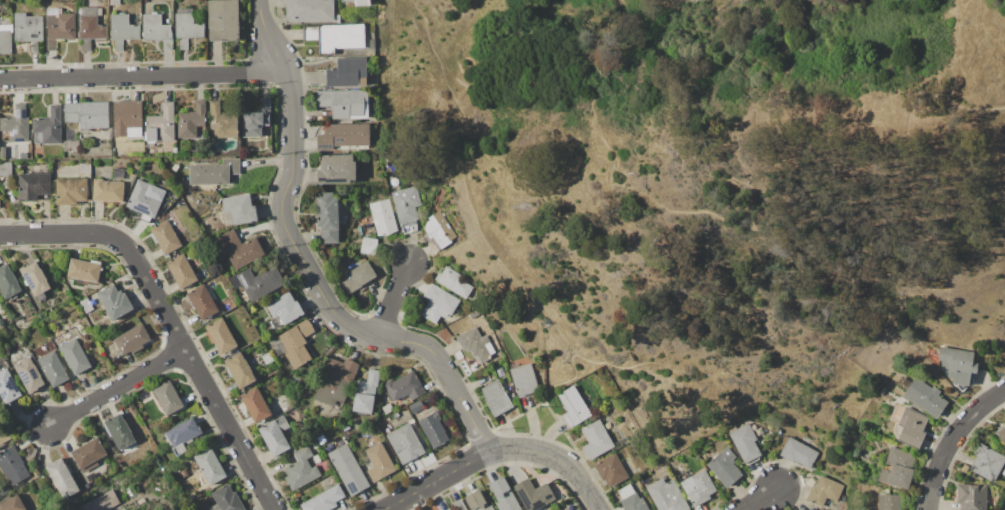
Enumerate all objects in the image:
building: (358, 2)
building: (114, 3)
building: (180, 5)
building: (181, 10)
building: (309, 11)
building: (223, 20)
building: (60, 27)
building: (90, 27)
building: (187, 29)
building: (29, 30)
building: (122, 30)
building: (157, 30)
building: (335, 37)
building: (5, 39)
building: (347, 73)
road: (600, 75)
road: (143, 76)
building: (345, 104)
road: (997, 108)
building: (87, 114)
building: (127, 118)
building: (191, 120)
building: (257, 120)
building: (222, 121)
building: (164, 122)
building: (17, 124)
building: (47, 127)
building: (151, 134)
building: (344, 136)
building: (71, 146)
building: (175, 150)
building: (83, 168)
building: (5, 169)
building: (336, 170)
building: (214, 172)
building: (118, 174)
park: (729, 184)
road: (735, 185)
building: (34, 186)
road: (465, 190)
building: (71, 191)
building: (108, 191)
building: (441, 195)
building: (168, 199)
building: (143, 200)
building: (450, 200)
building: (408, 209)
building: (239, 210)
building: (327, 217)
building: (382, 218)
building: (209, 222)
building: (439, 230)
building: (165, 237)
building: (240, 248)
building: (364, 249)
road: (308, 265)
building: (84, 270)
building: (181, 272)
building: (35, 278)
building: (356, 278)
building: (8, 282)
building: (212, 282)
building: (260, 282)
building: (454, 282)
road: (395, 300)
building: (115, 301)
building: (201, 302)
building: (438, 304)
building: (86, 305)
building: (284, 308)
building: (474, 314)
road: (170, 320)
building: (2, 322)
building: (221, 336)
road: (647, 338)
building: (132, 340)
building: (297, 344)
building: (476, 344)
building: (458, 355)
building: (75, 356)
building: (267, 358)
building: (957, 365)
building: (53, 368)
building: (238, 370)
building: (500, 370)
building: (29, 374)
building: (525, 380)
building: (337, 382)
building: (903, 383)
building: (8, 387)
building: (404, 387)
road: (118, 389)
building: (365, 393)
building: (168, 397)
building: (925, 397)
building: (496, 398)
road: (544, 400)
building: (254, 404)
building: (415, 407)
building: (573, 407)
building: (387, 408)
building: (911, 427)
building: (433, 430)
building: (119, 431)
building: (1002, 434)
building: (183, 435)
building: (276, 435)
building: (5, 438)
building: (596, 438)
building: (744, 441)
road: (952, 441)
building: (405, 444)
building: (314, 445)
building: (798, 453)
building: (92, 456)
building: (379, 462)
building: (987, 463)
building: (13, 465)
building: (210, 466)
building: (725, 467)
building: (897, 468)
building: (965, 468)
building: (348, 469)
road: (460, 469)
building: (300, 470)
building: (611, 470)
building: (184, 473)
road: (575, 474)
building: (62, 477)
building: (91, 477)
building: (698, 487)
building: (5, 490)
building: (824, 491)
building: (503, 495)
building: (533, 495)
building: (667, 496)
building: (971, 497)
building: (226, 499)
building: (631, 499)
road: (761, 499)
building: (324, 500)
building: (476, 500)
building: (102, 502)
building: (889, 502)
building: (12, 503)
building: (458, 505)
building: (812, 508)
building: (446, 509)

